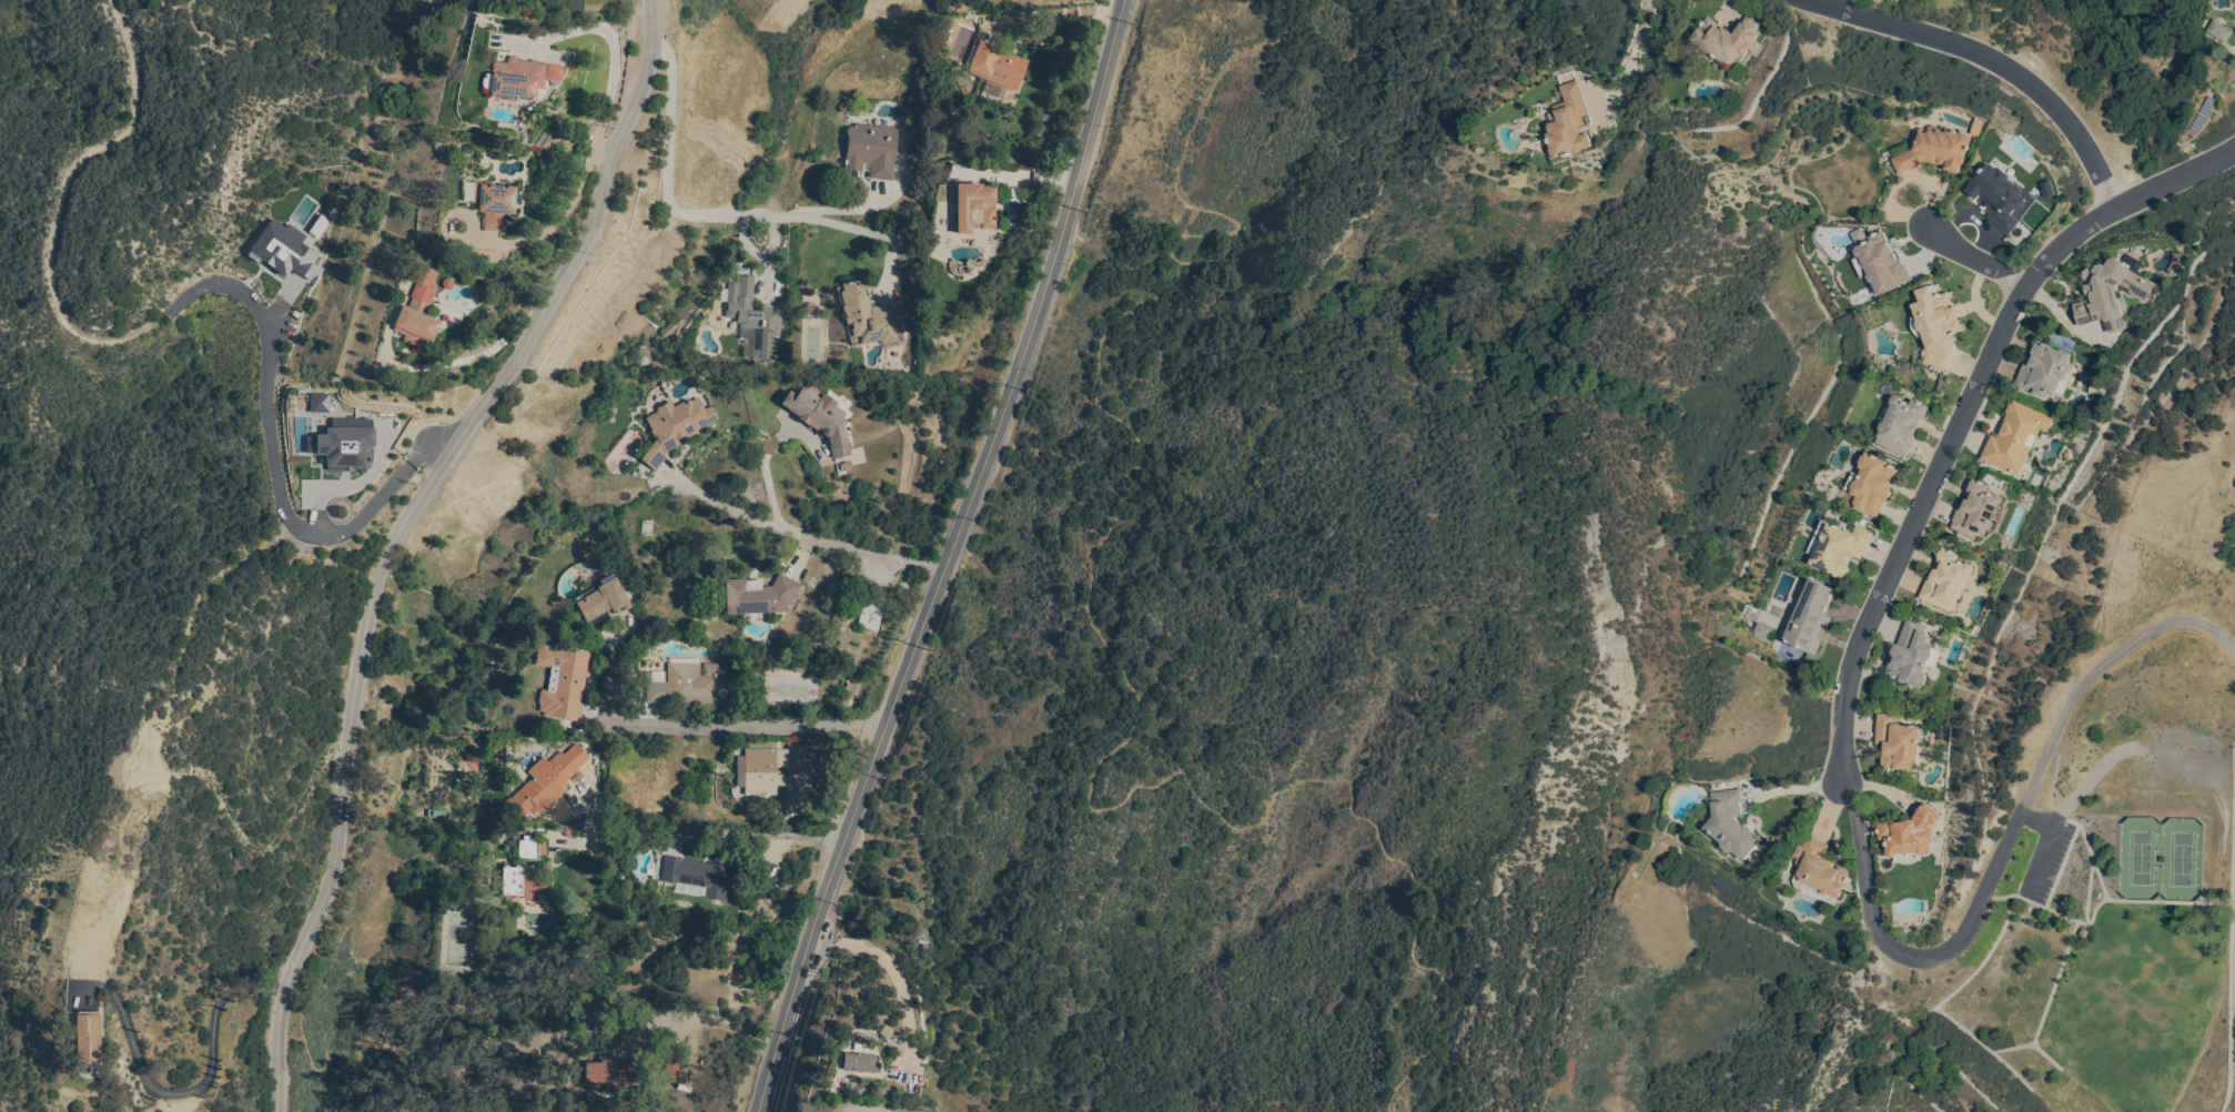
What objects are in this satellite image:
building: (2217, 30)
building: (1726, 38)
road: (616, 49)
road: (1639, 51)
road: (1990, 63)
building: (998, 65)
building: (519, 79)
building: (1568, 122)
building: (1939, 148)
building: (872, 150)
road: (609, 151)
road: (671, 188)
building: (1998, 195)
building: (494, 203)
building: (974, 208)
road: (563, 216)
building: (282, 252)
building: (485, 256)
road: (1978, 262)
building: (1880, 263)
building: (2110, 291)
building: (418, 310)
building: (870, 316)
building: (752, 317)
building: (1934, 325)
building: (2043, 370)
road: (1966, 418)
building: (822, 419)
building: (1900, 425)
building: (675, 427)
building: (2015, 436)
building: (344, 446)
road: (765, 474)
building: (1871, 484)
building: (1975, 509)
road: (315, 518)
road: (404, 532)
road: (801, 537)
building: (1837, 547)
road: (952, 559)
building: (1945, 580)
building: (759, 595)
building: (603, 599)
building: (869, 615)
building: (1806, 616)
building: (1759, 631)
road: (1103, 638)
building: (1911, 655)
building: (563, 681)
building: (688, 683)
building: (852, 687)
road: (719, 731)
building: (1898, 742)
building: (769, 768)
building: (545, 782)
road: (1793, 796)
building: (436, 813)
building: (1730, 823)
building: (1909, 833)
road: (717, 840)
road: (2010, 843)
road: (2043, 848)
building: (530, 849)
park: (2164, 856)
building: (1818, 868)
building: (694, 876)
building: (525, 882)
road: (897, 975)
road: (700, 1015)
building: (87, 1038)
building: (860, 1062)
building: (671, 1070)
building: (610, 1073)
road: (196, 1096)

